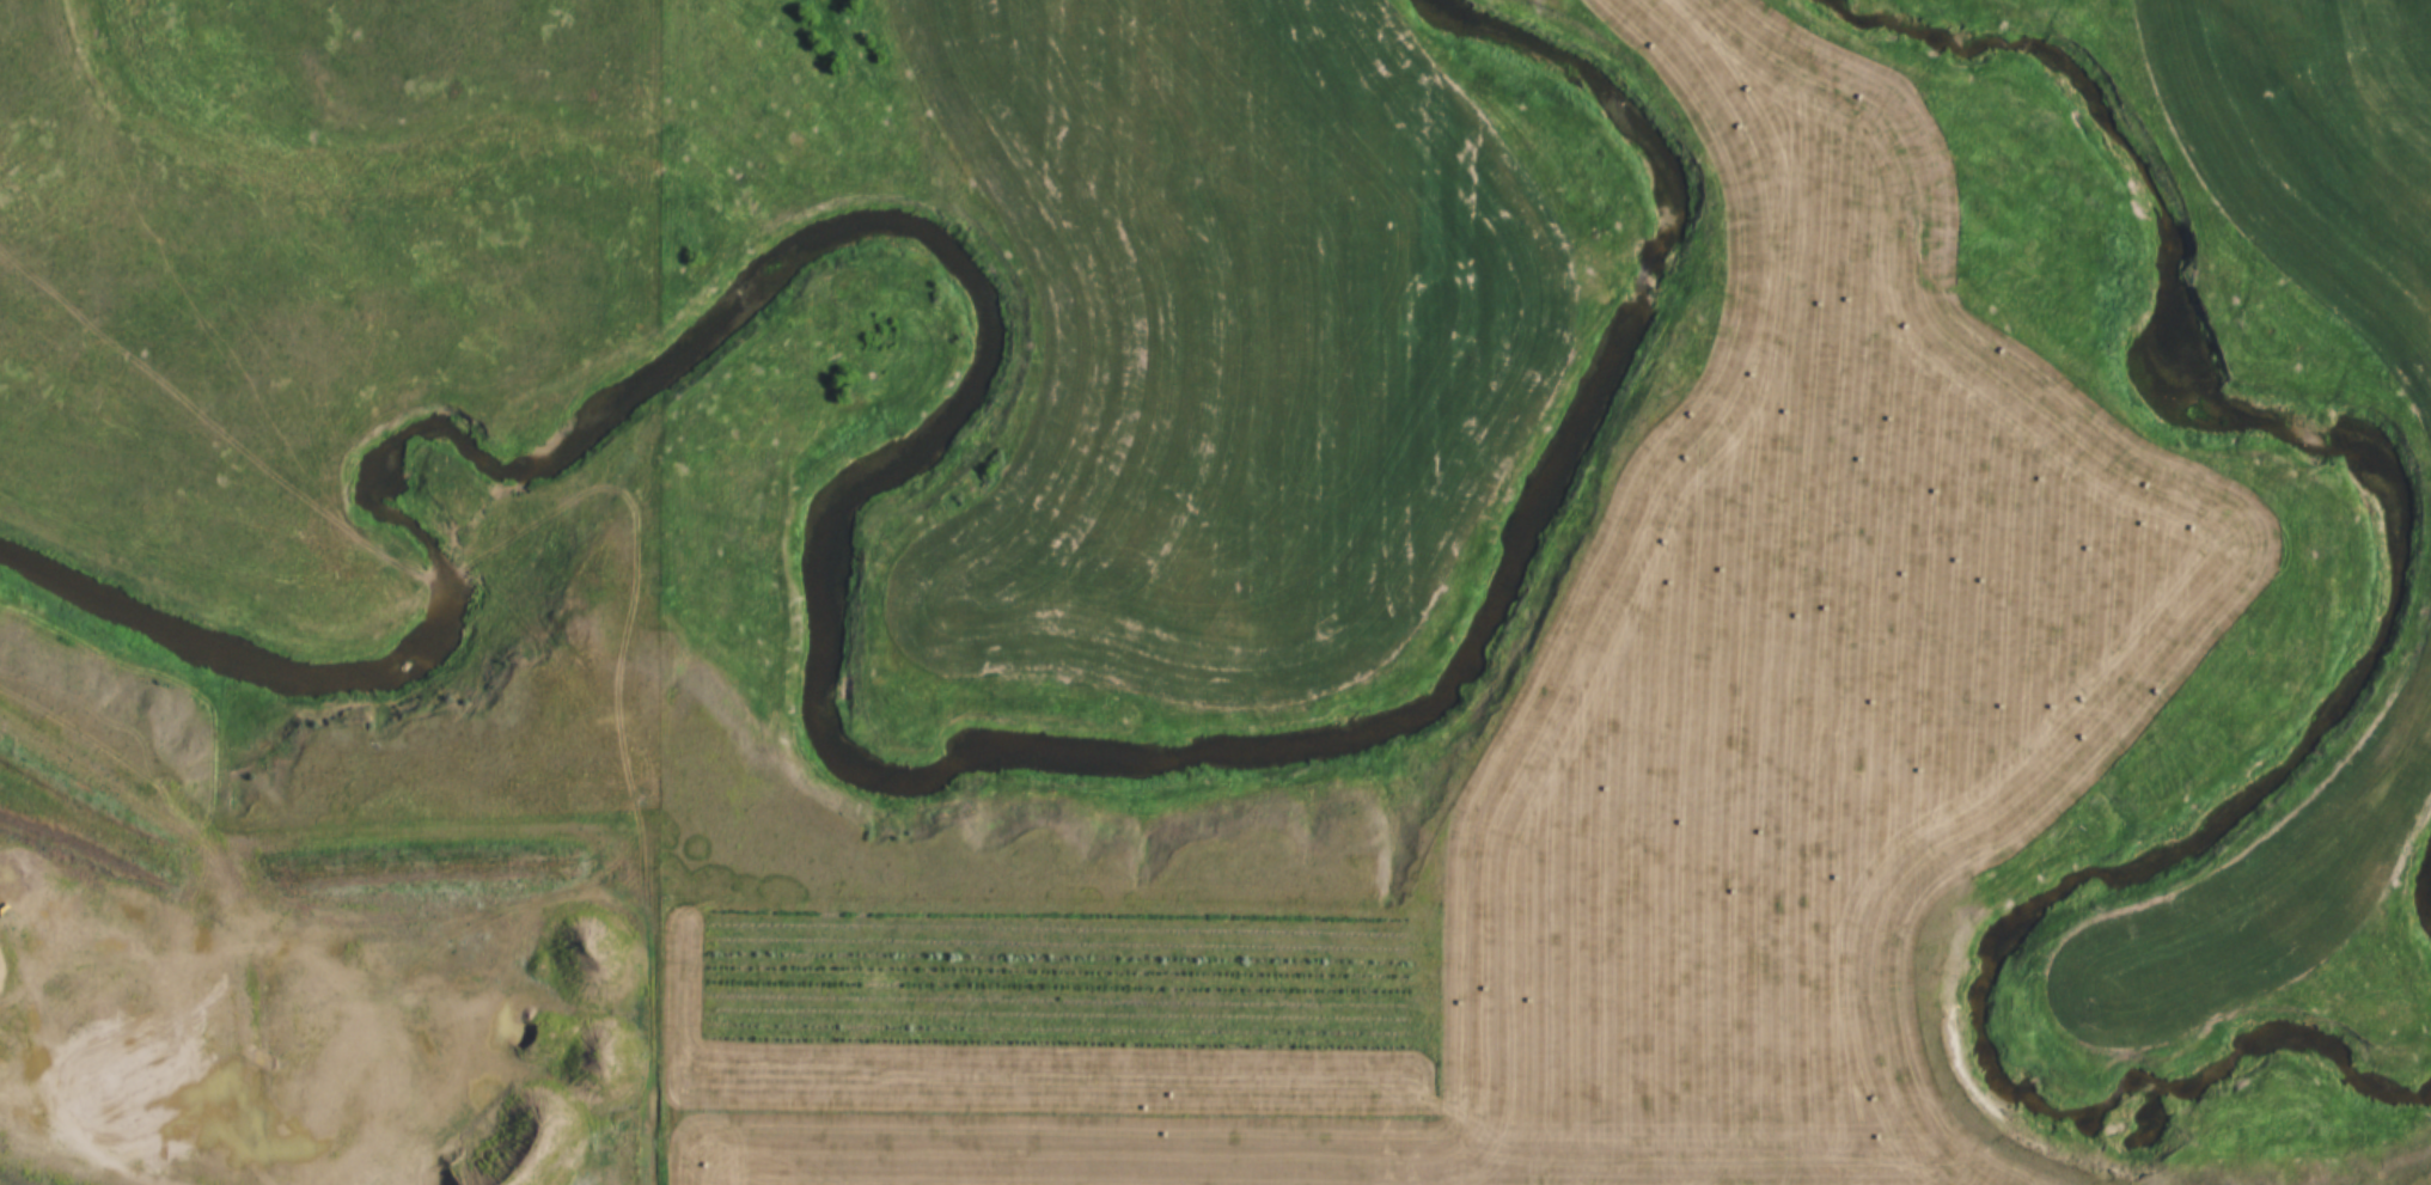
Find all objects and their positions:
road: (471, 848)
quarry: (322, 1028)

